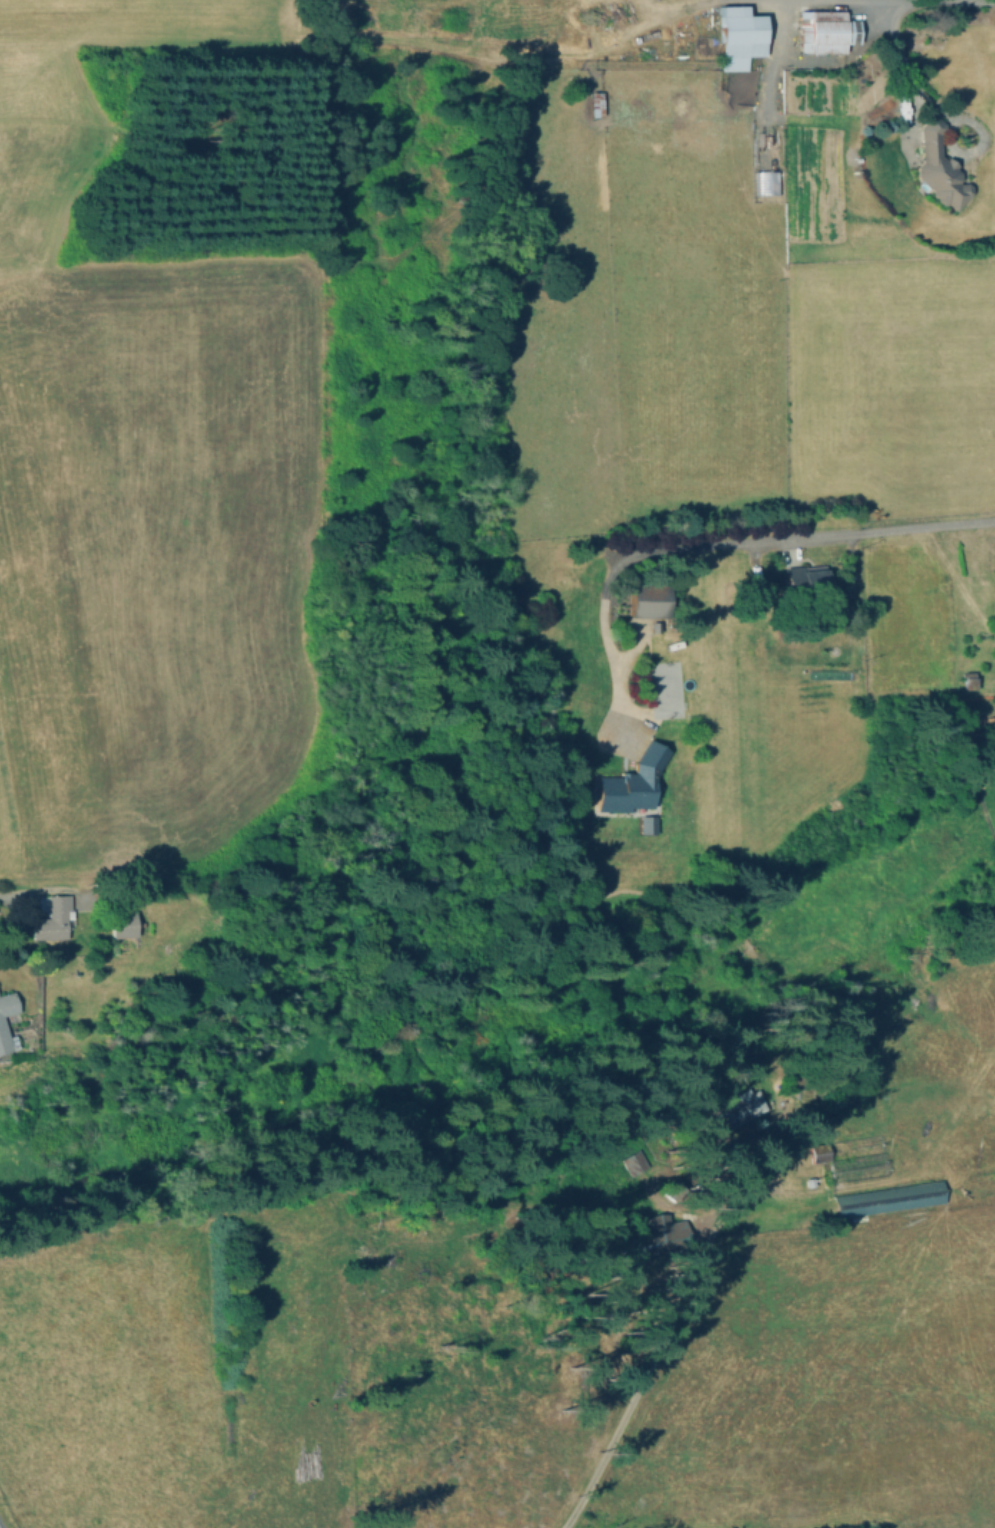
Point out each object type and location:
road: (220, 12)
building: (823, 31)
building: (737, 37)
road: (768, 69)
road: (911, 75)
building: (596, 104)
building: (940, 167)
building: (766, 187)
road: (828, 534)
road: (622, 561)
building: (807, 581)
building: (649, 600)
road: (636, 655)
road: (614, 666)
building: (969, 680)
park: (664, 688)
building: (632, 783)
building: (646, 823)
road: (12, 895)
building: (55, 918)
building: (124, 925)
building: (3, 1025)
building: (737, 1109)
building: (851, 1158)
building: (629, 1161)
building: (890, 1198)
building: (663, 1240)
road: (652, 1348)

